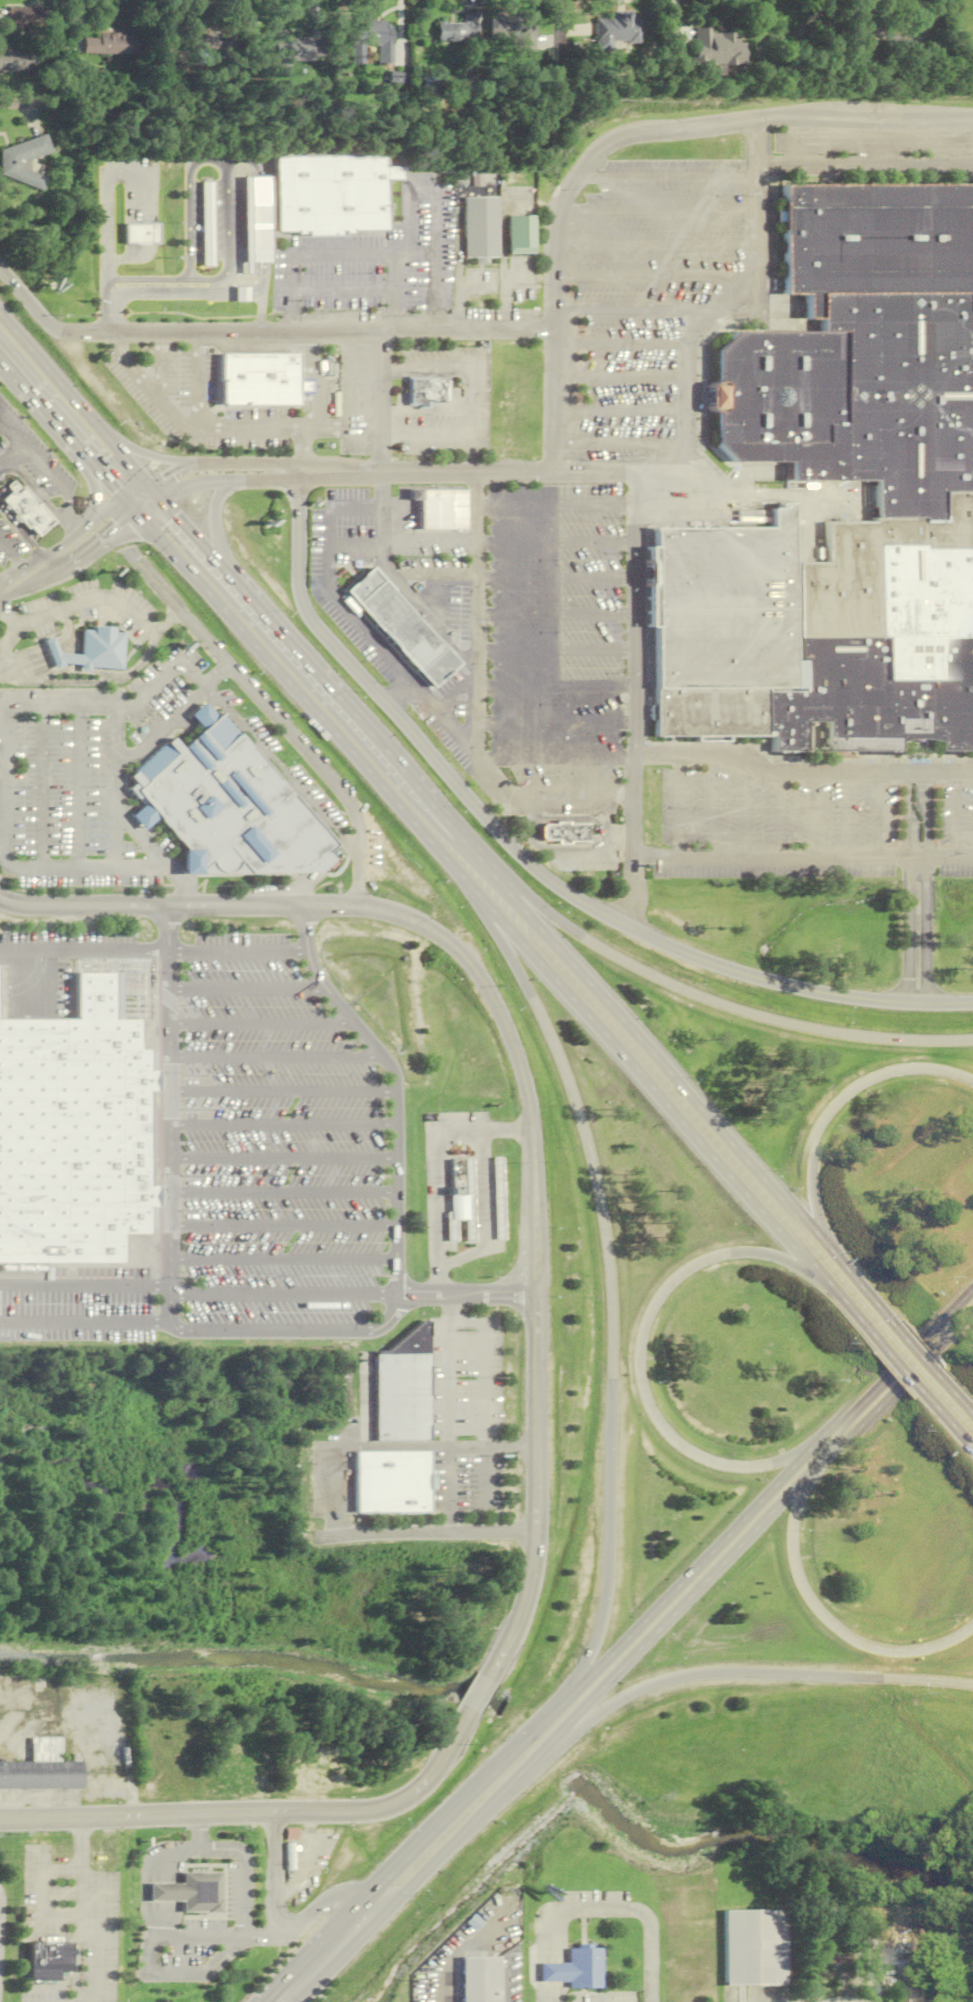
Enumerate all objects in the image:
building: (32, 17)
building: (614, 30)
building: (457, 31)
building: (515, 31)
building: (373, 38)
building: (870, 40)
building: (900, 42)
building: (111, 44)
building: (300, 47)
building: (206, 48)
building: (715, 49)
road: (554, 59)
building: (19, 62)
road: (865, 115)
road: (936, 139)
road: (830, 140)
parking lot: (872, 141)
building: (11, 162)
road: (865, 164)
road: (668, 175)
road: (475, 179)
building: (331, 191)
road: (434, 193)
road: (515, 198)
road: (658, 210)
road: (107, 217)
road: (191, 219)
road: (263, 219)
building: (256, 221)
building: (208, 223)
road: (556, 223)
building: (481, 227)
building: (141, 233)
road: (145, 233)
building: (522, 234)
road: (655, 243)
road: (231, 245)
road: (340, 253)
road: (457, 254)
road: (132, 259)
road: (502, 263)
road: (264, 278)
road: (649, 278)
road: (518, 279)
road: (476, 288)
parking lot: (647, 288)
road: (243, 290)
road: (342, 290)
road: (223, 291)
road: (255, 291)
road: (163, 294)
building: (243, 294)
road: (255, 295)
road: (725, 297)
road: (223, 298)
road: (243, 298)
road: (28, 301)
road: (632, 310)
road: (394, 318)
road: (292, 320)
road: (435, 320)
road: (308, 329)
road: (117, 339)
road: (621, 343)
road: (439, 365)
road: (393, 369)
road: (620, 377)
road: (199, 379)
building: (263, 379)
road: (310, 379)
building: (307, 386)
building: (429, 390)
road: (382, 400)
road: (467, 401)
road: (78, 404)
road: (45, 409)
road: (620, 411)
road: (186, 424)
road: (306, 429)
road: (475, 433)
road: (13, 434)
road: (395, 434)
road: (312, 444)
road: (619, 444)
road: (13, 456)
road: (155, 456)
road: (49, 469)
building: (884, 471)
road: (429, 472)
road: (619, 472)
road: (229, 473)
road: (111, 485)
road: (37, 489)
road: (98, 490)
road: (385, 491)
traffic signals: (159, 493)
road: (150, 497)
road: (136, 505)
road: (70, 506)
traffic signals: (131, 508)
building: (28, 509)
road: (223, 509)
road: (112, 511)
road: (75, 526)
traffic signals: (165, 529)
road: (191, 529)
road: (22, 530)
road: (71, 540)
road: (91, 550)
road: (11, 553)
road: (38, 562)
road: (14, 575)
road: (157, 579)
road: (330, 581)
road: (21, 590)
road: (89, 600)
road: (476, 613)
road: (635, 613)
road: (8, 619)
road: (168, 622)
building: (403, 626)
road: (6, 639)
building: (99, 650)
building: (53, 653)
road: (169, 673)
road: (218, 675)
road: (300, 680)
road: (90, 683)
road: (398, 690)
road: (307, 703)
road: (346, 706)
road: (64, 707)
building: (202, 716)
road: (162, 726)
road: (409, 727)
road: (302, 746)
road: (482, 762)
road: (3, 767)
road: (280, 772)
road: (800, 774)
road: (6, 787)
road: (42, 788)
road: (78, 788)
road: (114, 788)
road: (567, 793)
road: (627, 794)
road: (712, 806)
building: (230, 807)
road: (745, 811)
building: (144, 816)
road: (812, 816)
road: (845, 816)
road: (608, 822)
parking lot: (773, 829)
parking lot: (955, 831)
building: (566, 834)
road: (633, 840)
road: (149, 848)
road: (575, 852)
road: (802, 858)
road: (483, 863)
building: (191, 864)
road: (81, 869)
road: (907, 887)
road: (924, 888)
road: (185, 897)
road: (151, 905)
road: (333, 907)
road: (539, 908)
road: (508, 949)
road: (153, 952)
road: (166, 981)
road: (322, 986)
road: (794, 986)
road: (243, 989)
road: (770, 1019)
road: (258, 1025)
road: (653, 1056)
road: (272, 1058)
road: (873, 1077)
road: (393, 1085)
road: (167, 1092)
road: (280, 1092)
road: (682, 1122)
road: (280, 1125)
road: (507, 1130)
building: (73, 1132)
road: (280, 1159)
road: (434, 1178)
building: (456, 1183)
road: (596, 1184)
road: (280, 1192)
road: (806, 1193)
building: (497, 1199)
building: (461, 1209)
road: (483, 1214)
road: (280, 1226)
road: (167, 1234)
road: (393, 1236)
road: (536, 1254)
road: (280, 1260)
road: (437, 1282)
road: (857, 1283)
road: (280, 1295)
road: (465, 1296)
road: (446, 1308)
road: (465, 1321)
road: (276, 1331)
road: (639, 1352)
road: (922, 1355)
road: (889, 1367)
road: (904, 1370)
parking lot: (465, 1379)
road: (484, 1386)
building: (402, 1387)
road: (888, 1391)
road: (958, 1395)
road: (949, 1421)
road: (446, 1427)
road: (436, 1446)
road: (484, 1478)
road: (333, 1479)
building: (390, 1481)
parking lot: (464, 1482)
road: (798, 1495)
building: (496, 1504)
road: (422, 1533)
road: (609, 1540)
road: (689, 1573)
road: (671, 1615)
road: (843, 1633)
river: (258, 1660)
road: (700, 1673)
road: (928, 1680)
road: (478, 1692)
river: (539, 1744)
building: (41, 1769)
road: (471, 1793)
road: (396, 1802)
road: (138, 1817)
road: (463, 1830)
road: (201, 1832)
building: (292, 1834)
river: (762, 1835)
road: (80, 1853)
building: (291, 1857)
road: (246, 1874)
road: (147, 1877)
parking lot: (237, 1892)
building: (190, 1893)
road: (591, 1910)
road: (372, 1911)
road: (279, 1922)
road: (264, 1937)
road: (95, 1941)
parking lot: (193, 1946)
building: (940, 1946)
building: (755, 1948)
road: (650, 1949)
road: (555, 1957)
building: (49, 1959)
road: (324, 1962)
road: (150, 1965)
building: (584, 1969)
building: (554, 1973)
building: (481, 1980)
building: (909, 1994)
road: (869, 2001)

